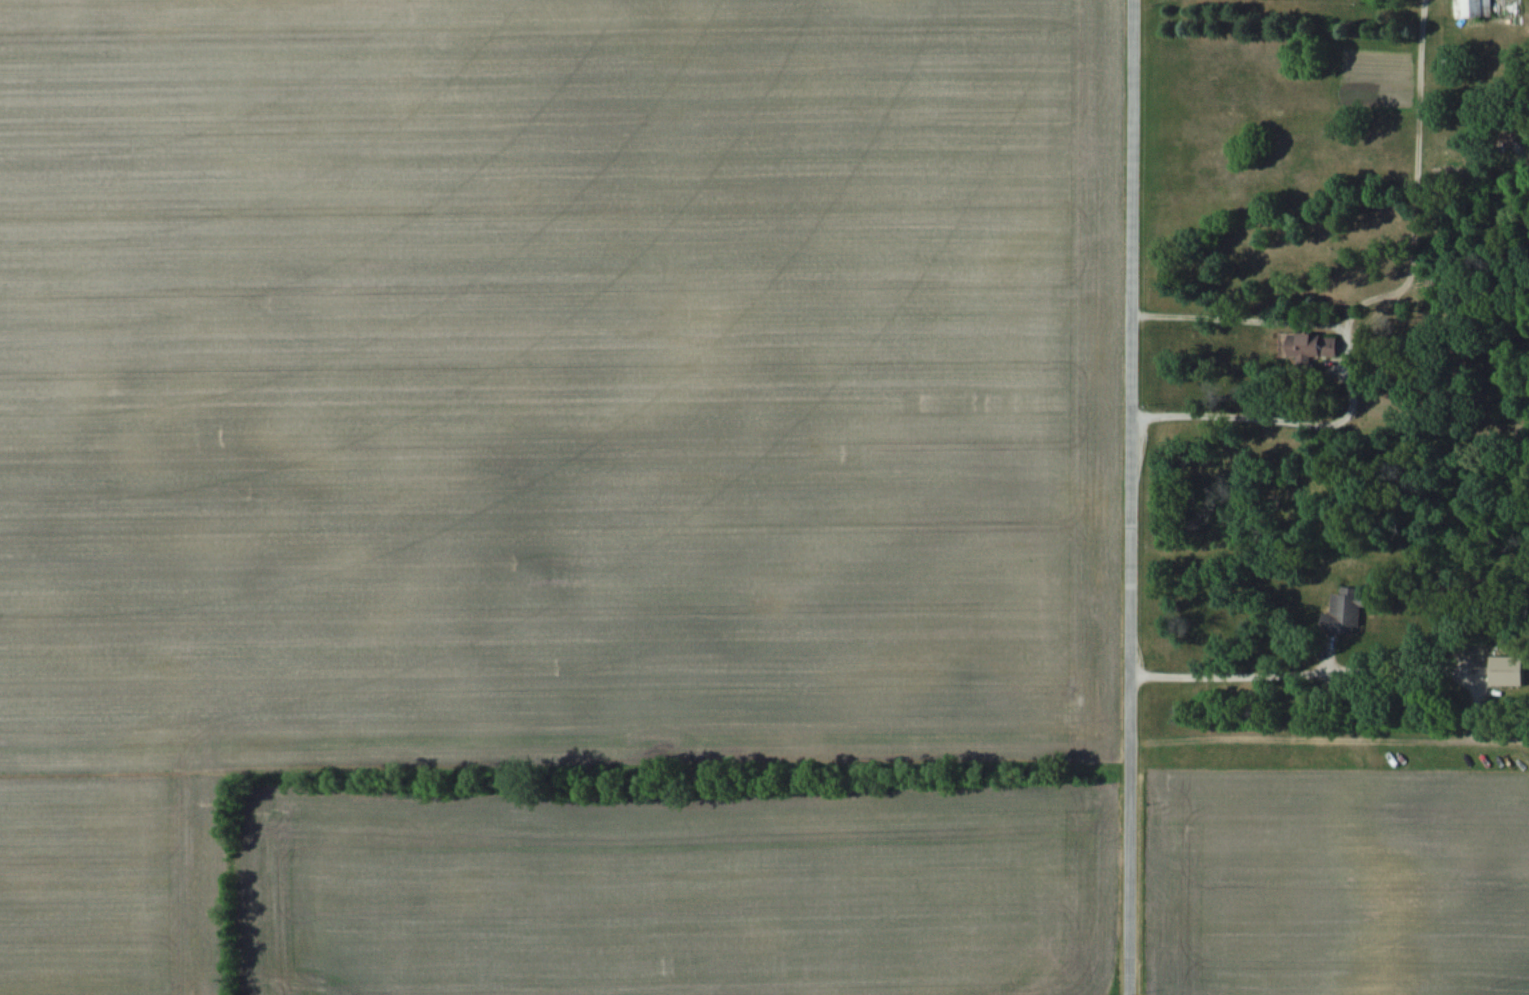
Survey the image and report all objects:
building: (1472, 8)
building: (1306, 342)
road: (1127, 497)
building: (1345, 611)
building: (1508, 670)
road: (1233, 676)

